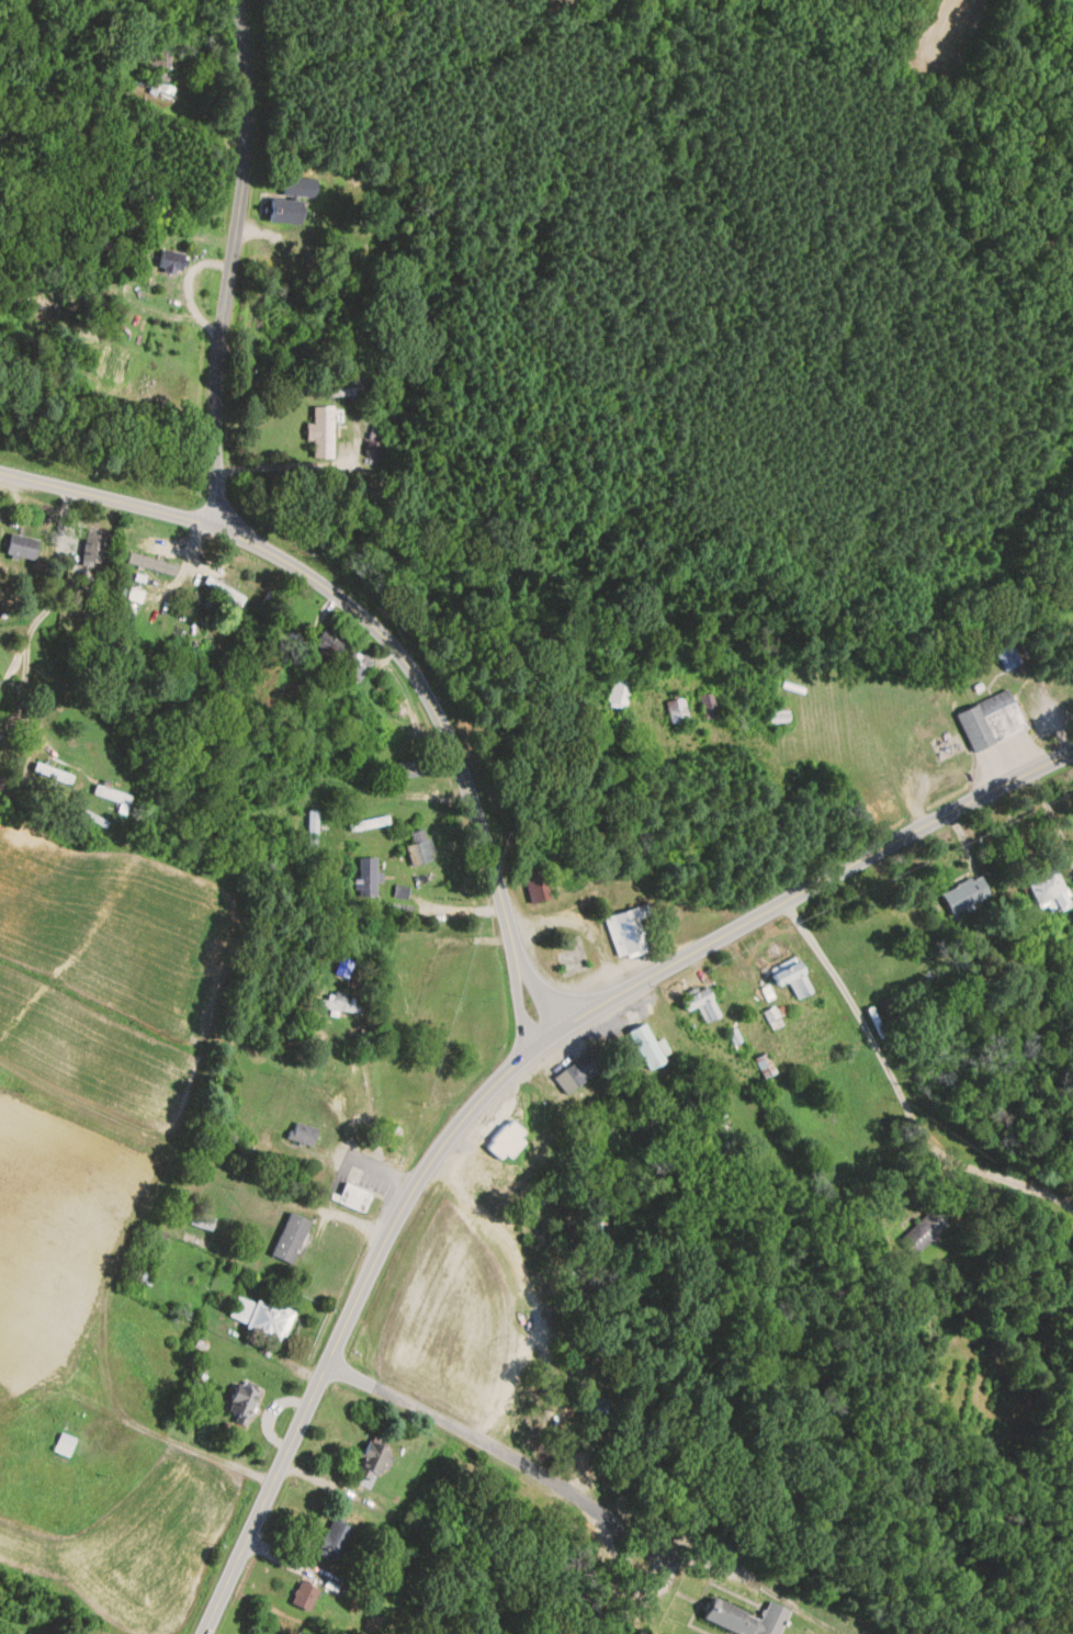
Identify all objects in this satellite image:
building: (82, 58)
building: (153, 86)
building: (298, 188)
building: (285, 213)
building: (171, 261)
road: (226, 264)
building: (275, 316)
building: (335, 393)
building: (323, 432)
building: (22, 548)
building: (93, 549)
building: (151, 564)
building: (224, 591)
road: (355, 613)
building: (326, 649)
building: (1007, 658)
building: (357, 666)
building: (0, 679)
building: (619, 694)
building: (708, 707)
building: (677, 711)
building: (779, 714)
building: (991, 722)
building: (411, 768)
building: (53, 774)
road: (371, 795)
building: (112, 796)
building: (92, 824)
building: (312, 833)
building: (421, 846)
building: (366, 876)
building: (536, 881)
building: (1047, 890)
building: (965, 894)
building: (629, 931)
building: (572, 955)
building: (345, 967)
building: (791, 978)
road: (539, 994)
building: (337, 1004)
building: (702, 1005)
road: (520, 1006)
building: (643, 1039)
building: (765, 1067)
road: (509, 1070)
building: (577, 1072)
road: (899, 1089)
building: (303, 1135)
building: (505, 1141)
road: (370, 1163)
parking lot: (370, 1174)
road: (364, 1188)
road: (369, 1195)
building: (351, 1196)
road: (342, 1219)
building: (202, 1221)
building: (924, 1232)
building: (291, 1239)
building: (139, 1275)
building: (260, 1318)
building: (242, 1401)
building: (596, 1407)
road: (507, 1453)
building: (371, 1466)
building: (626, 1466)
building: (335, 1541)
building: (304, 1597)
building: (747, 1619)

